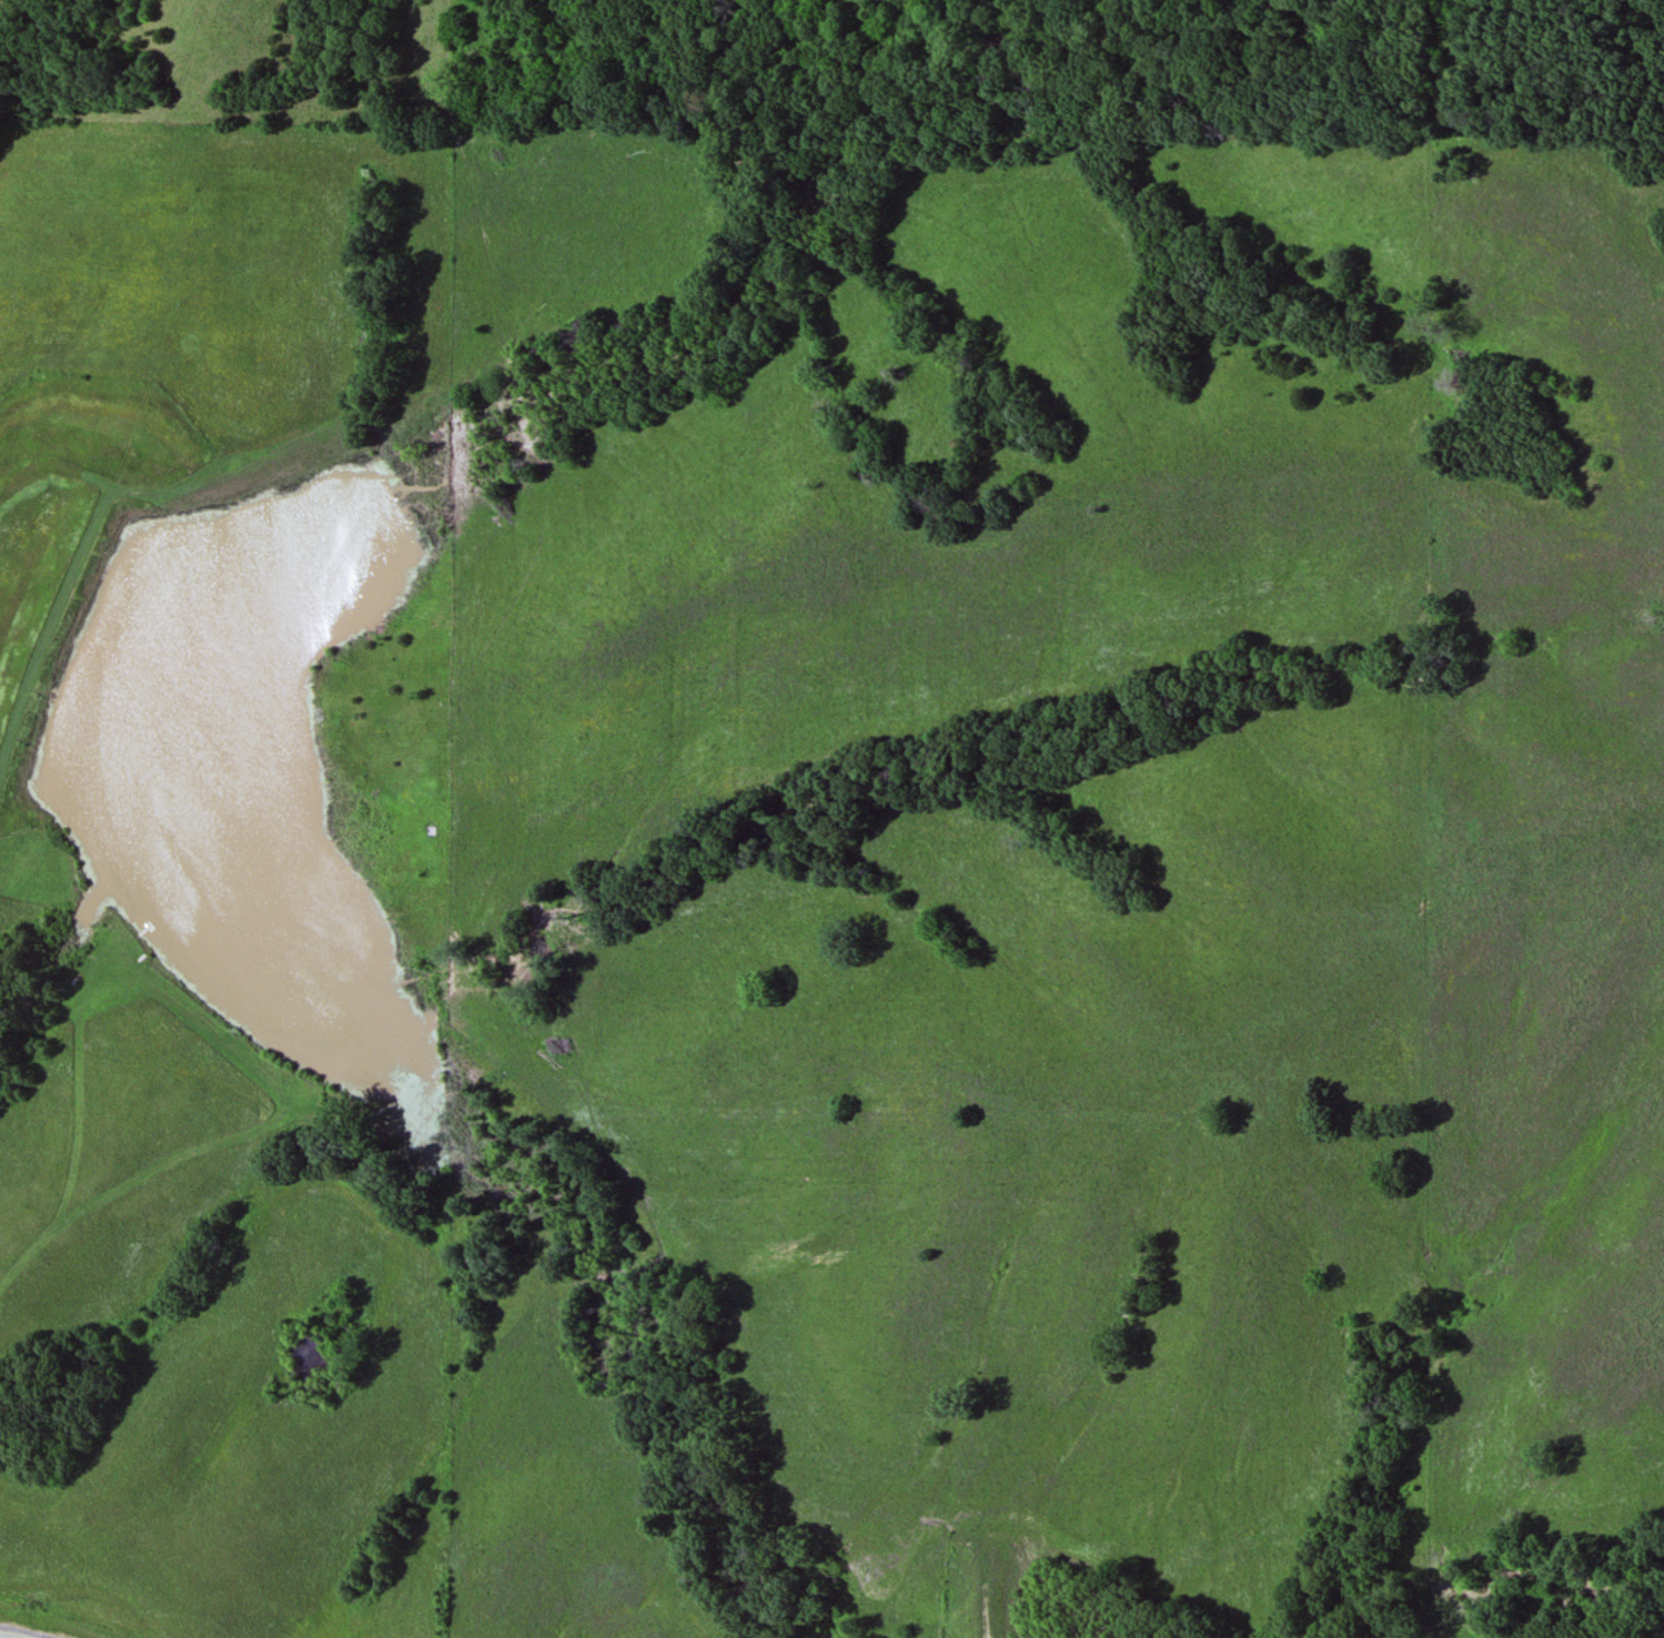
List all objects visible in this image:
road: (14, 1635)

